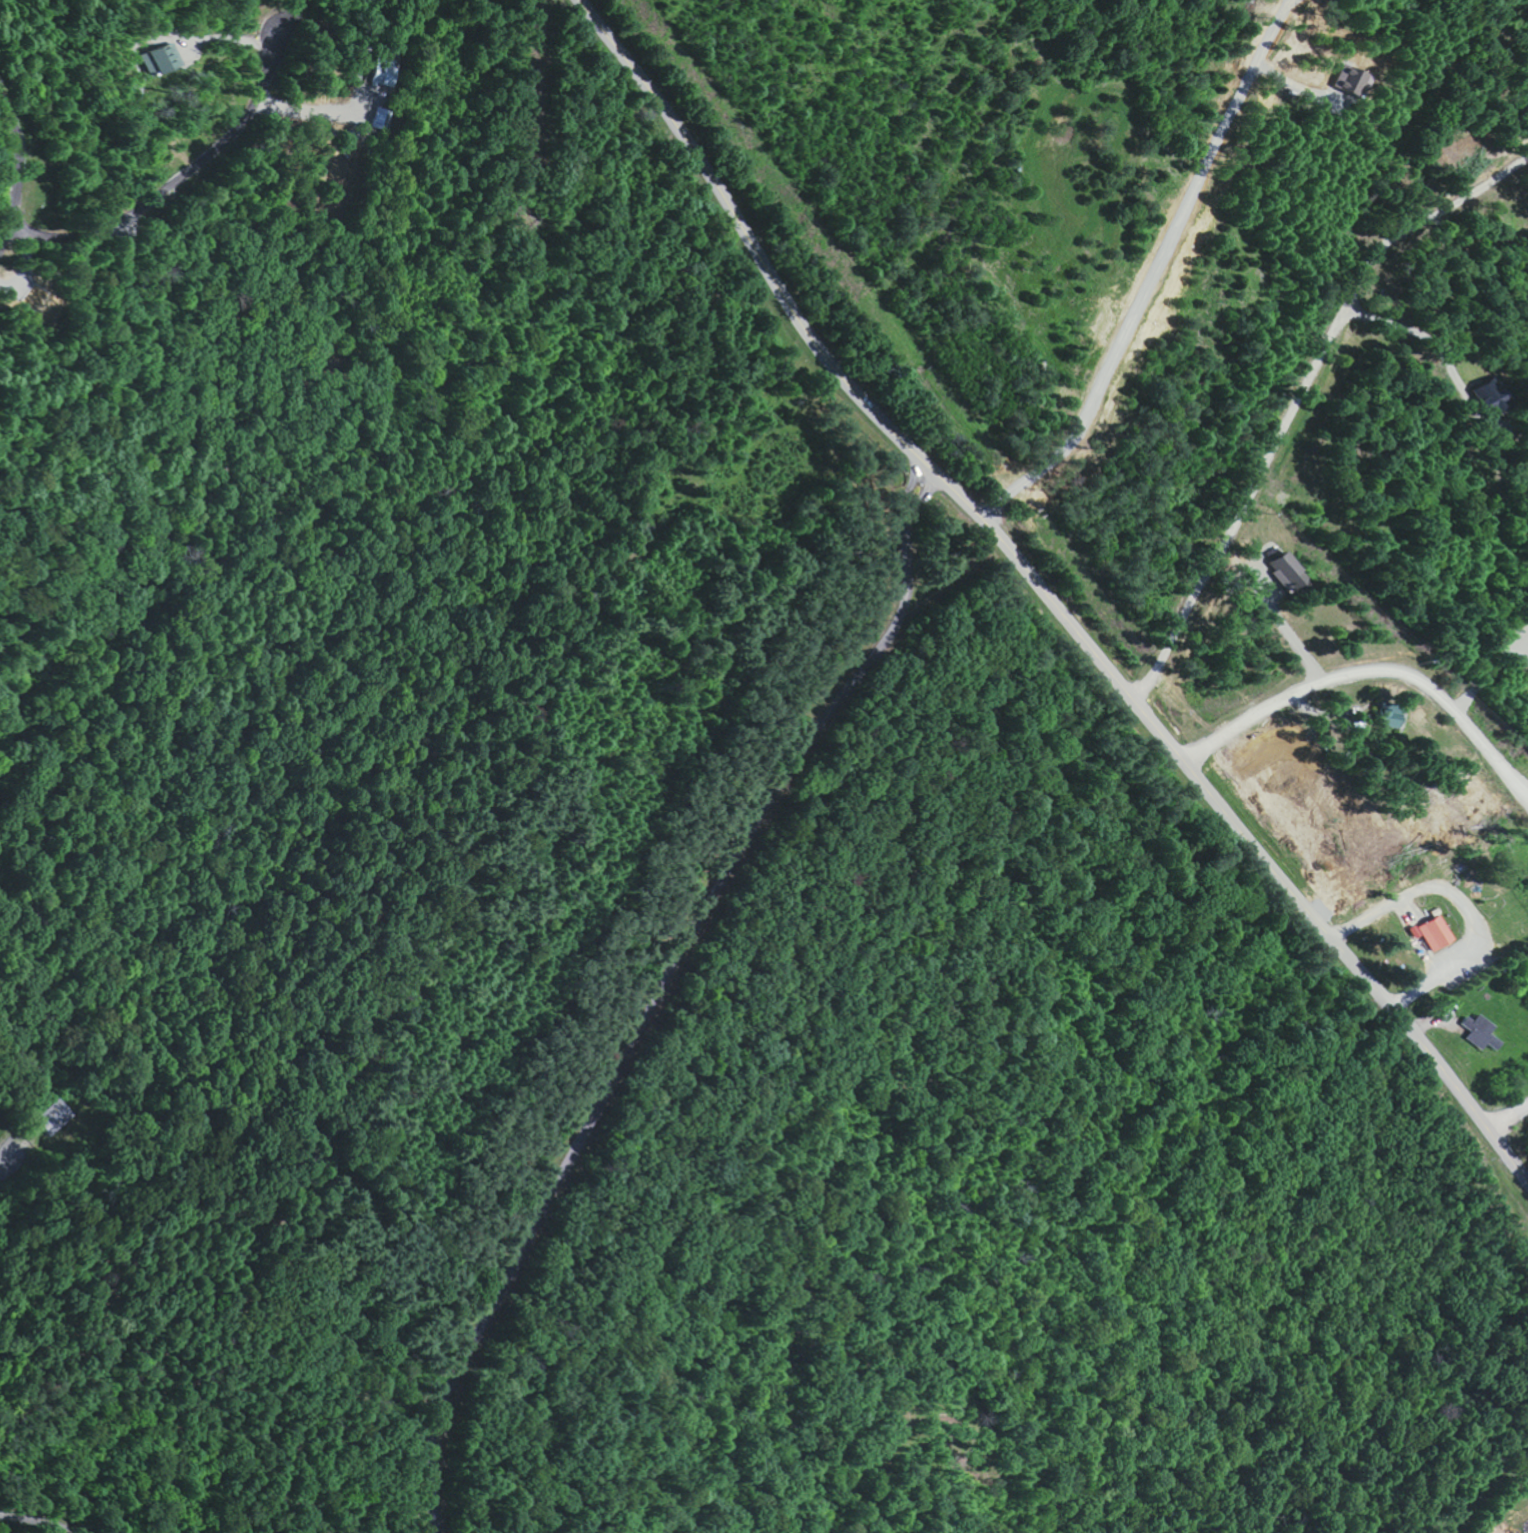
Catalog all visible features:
building: (167, 60)
building: (1484, 398)
building: (1283, 568)
road: (1047, 593)
road: (1370, 670)
building: (1382, 716)
building: (1432, 932)
road: (657, 989)
road: (1508, 1113)
road: (4, 1160)
park: (997, 1188)
road: (42, 1518)

